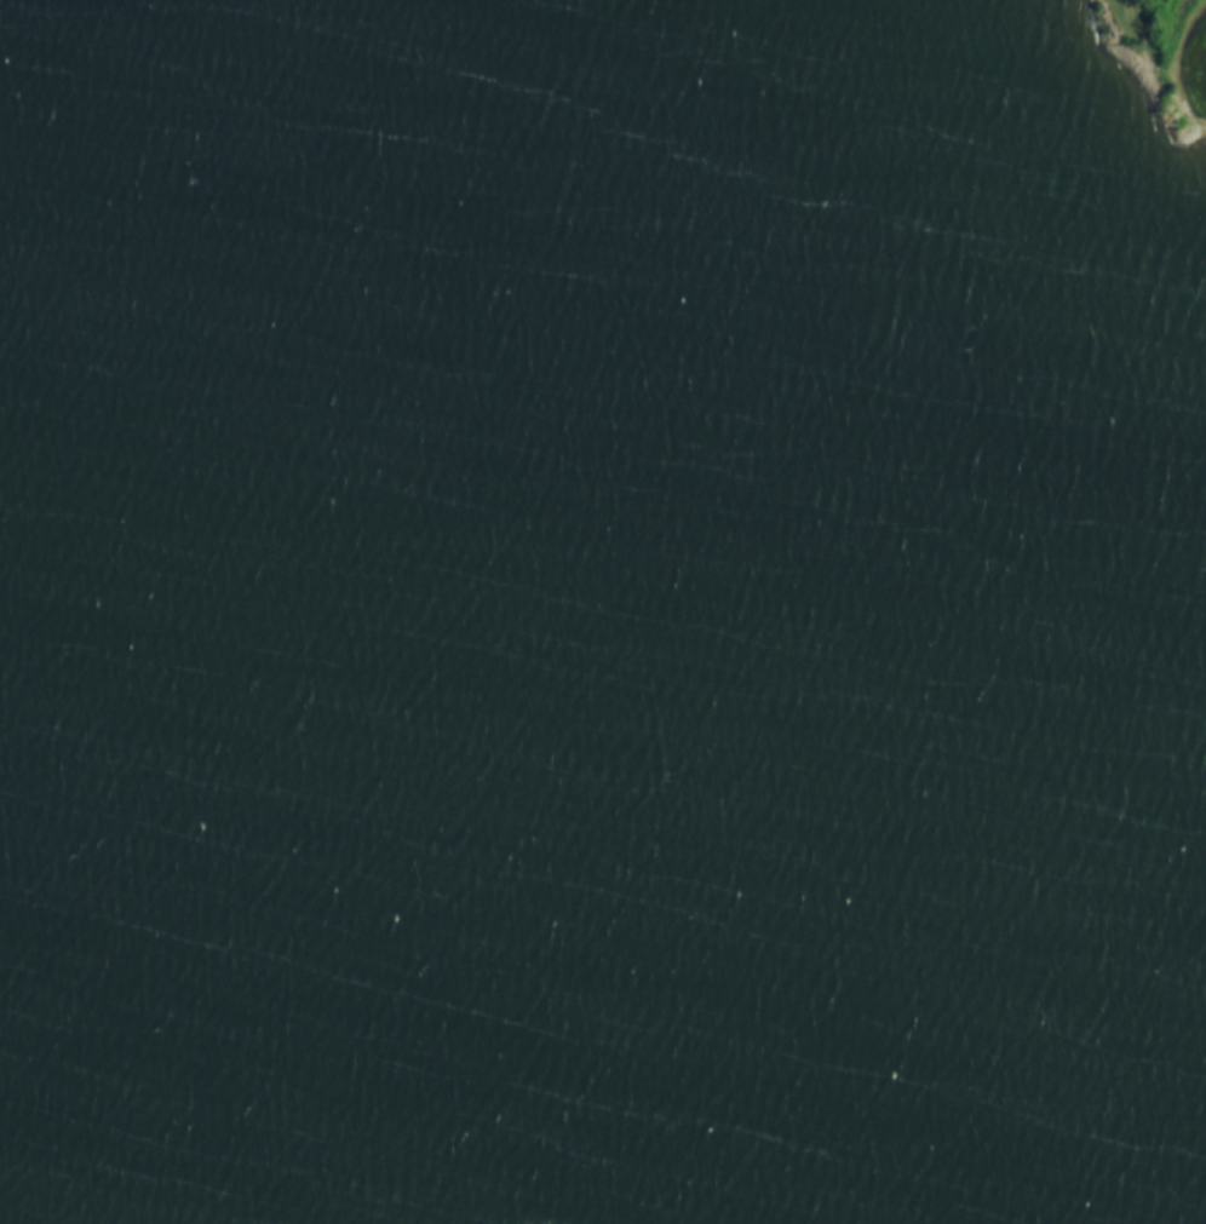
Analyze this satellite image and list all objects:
river: (218, 1182)

